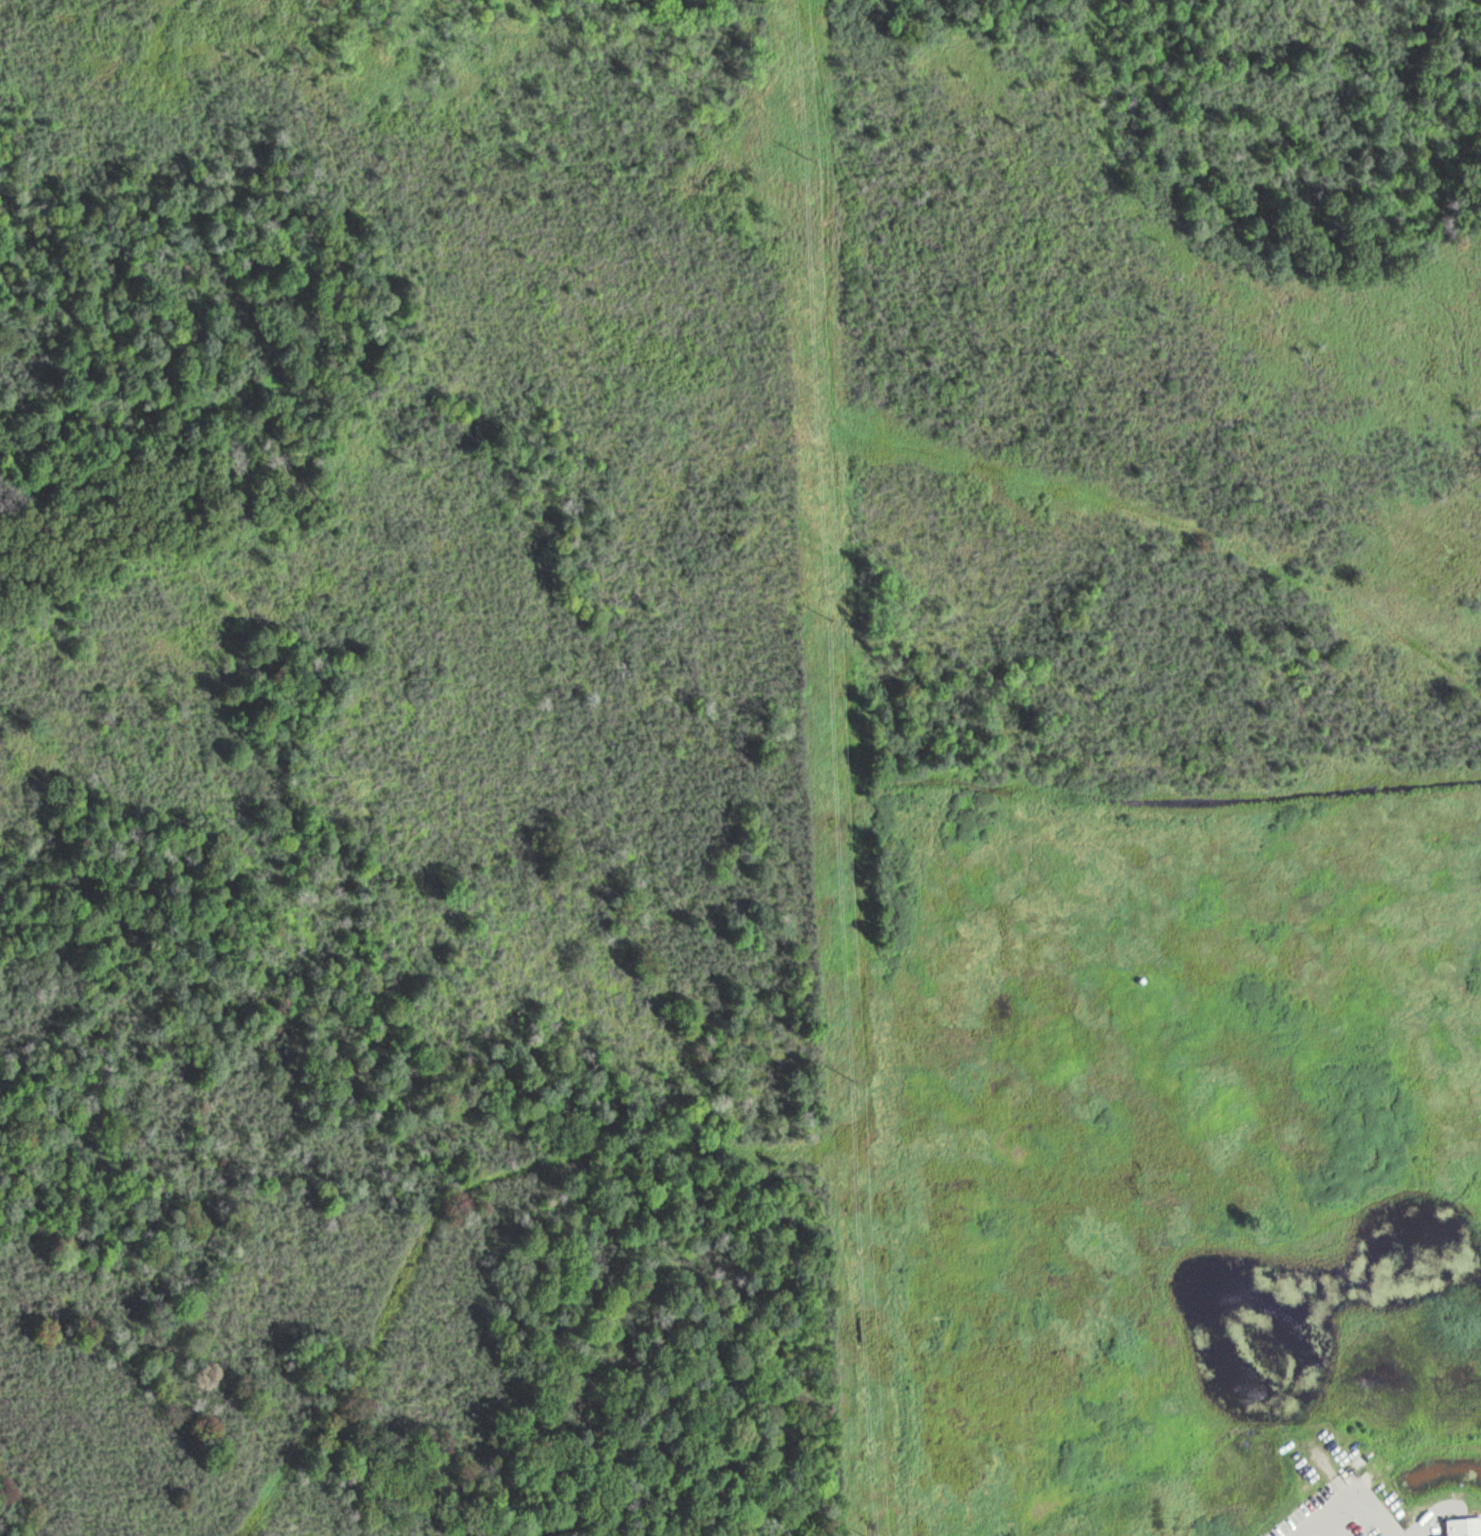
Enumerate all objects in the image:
power tower: (807, 156)
power tower: (833, 618)
power tower: (854, 1081)
building: (1463, 1527)

